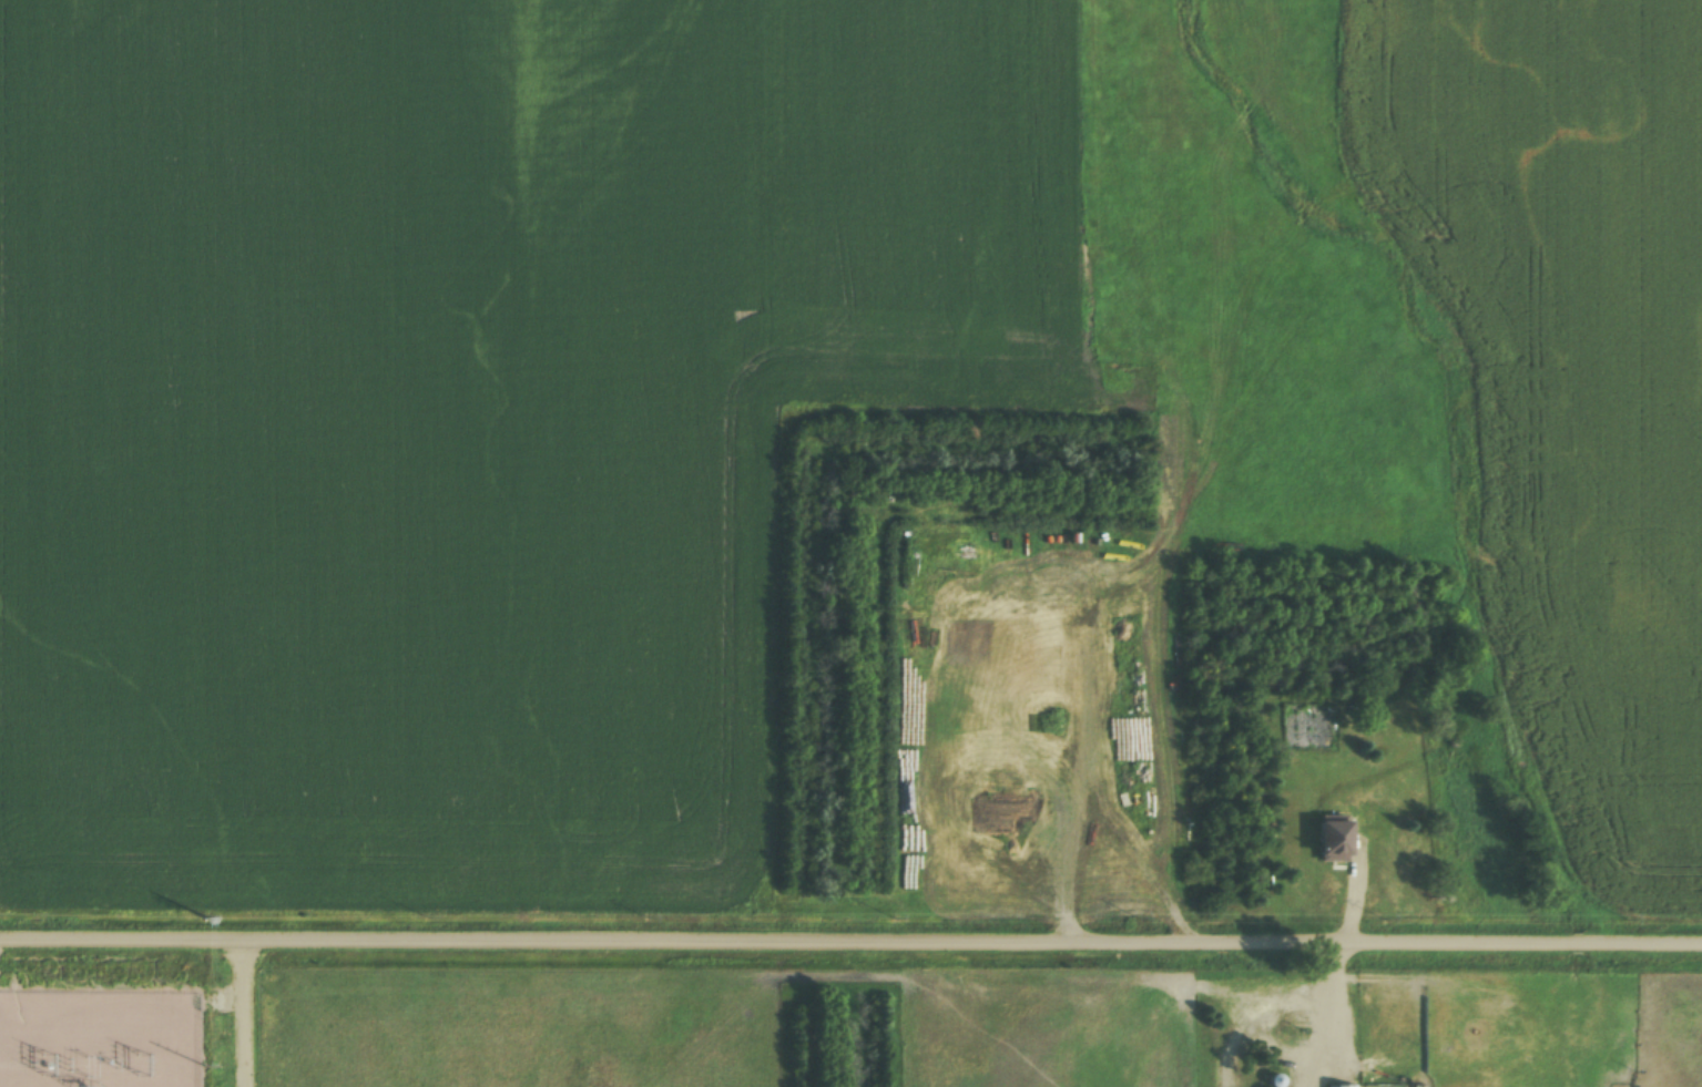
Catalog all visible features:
building: (906, 756)
building: (907, 800)
building: (1333, 840)
building: (908, 859)
building: (947, 859)
road: (850, 935)
power substation: (98, 1039)
building: (1332, 1086)

